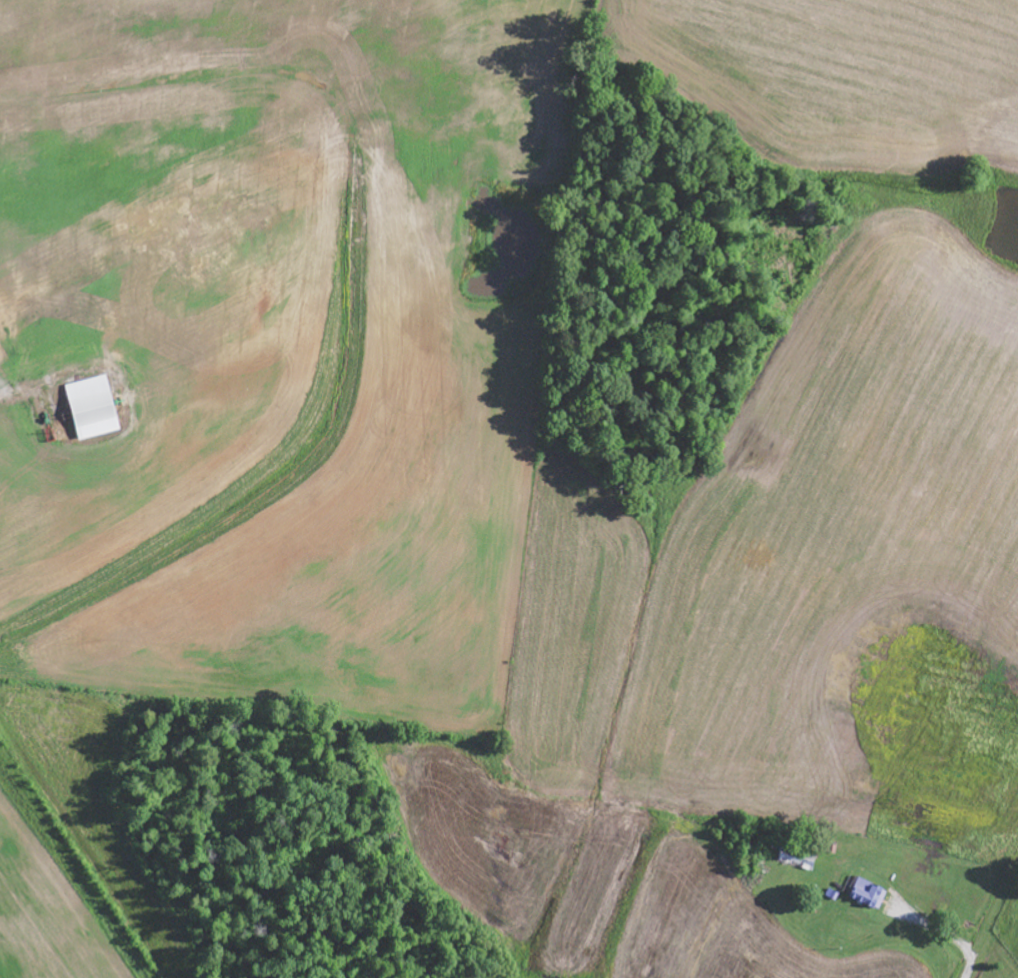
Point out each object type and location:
building: (93, 408)
building: (798, 858)
building: (862, 887)
building: (828, 889)
road: (948, 938)

